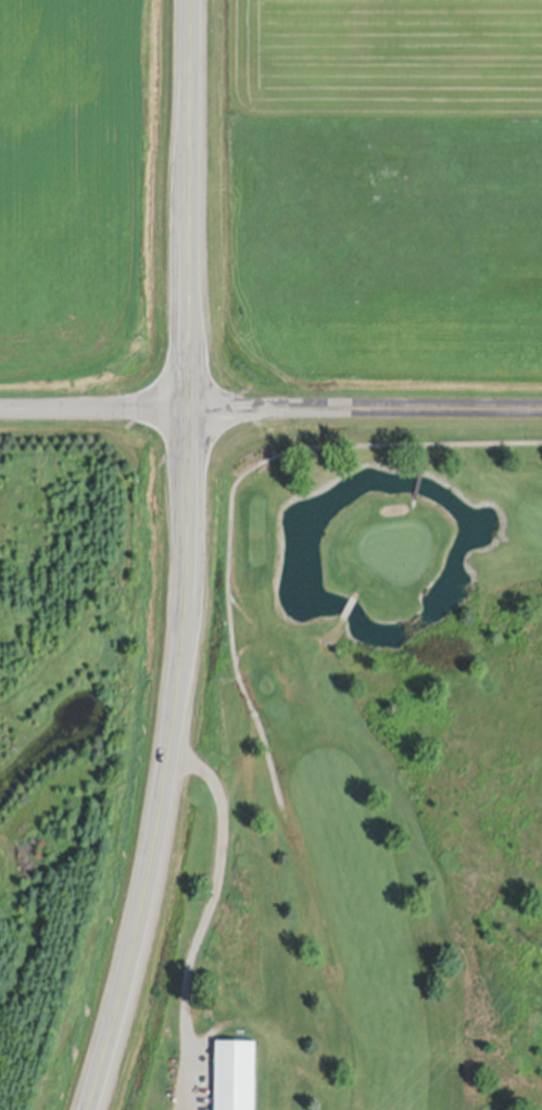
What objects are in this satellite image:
road: (270, 407)
road: (189, 559)
park: (389, 746)
road: (209, 905)
building: (236, 1075)

